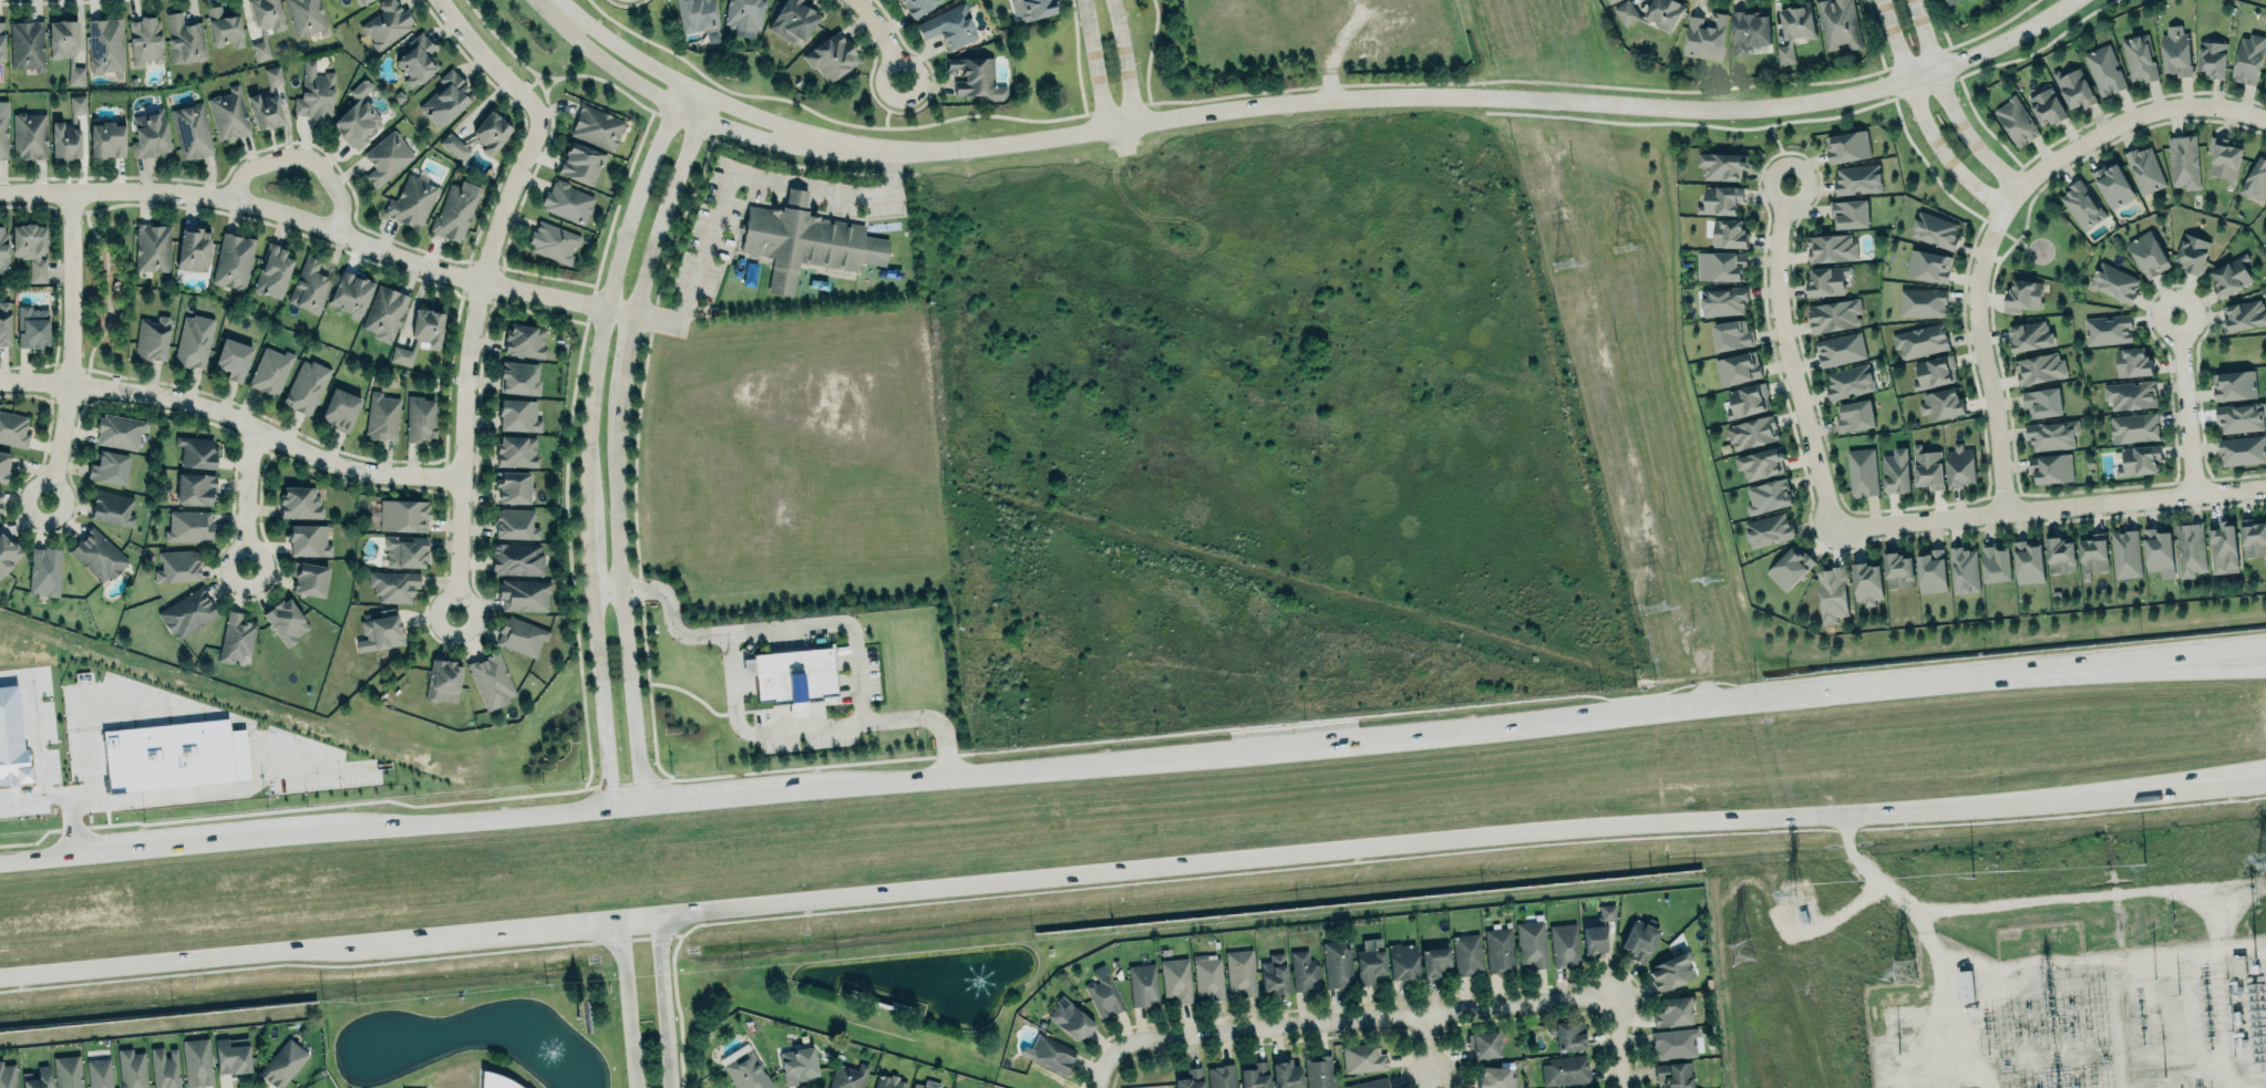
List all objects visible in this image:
building: (1967, 0)
building: (360, 1)
building: (1611, 1)
building: (1950, 1)
road: (563, 2)
building: (917, 6)
road: (558, 7)
building: (1032, 8)
building: (1652, 13)
building: (696, 14)
building: (743, 15)
building: (306, 17)
building: (792, 21)
building: (385, 22)
building: (1798, 22)
building: (265, 23)
building: (1838, 23)
building: (949, 25)
building: (224, 28)
road: (1990, 29)
building: (1749, 30)
building: (1703, 35)
road: (885, 37)
building: (185, 39)
building: (144, 40)
building: (1, 42)
building: (27, 44)
building: (106, 44)
building: (65, 46)
building: (2175, 51)
building: (1784, 53)
building: (832, 55)
road: (488, 58)
building: (2140, 58)
road: (1913, 59)
building: (2212, 59)
building: (2248, 59)
building: (416, 60)
road: (1122, 61)
road: (1092, 64)
building: (2104, 71)
road: (567, 74)
road: (624, 74)
building: (975, 76)
road: (676, 81)
building: (2264, 83)
building: (2074, 89)
building: (315, 92)
road: (1440, 95)
building: (445, 99)
road: (1946, 104)
road: (703, 107)
building: (2046, 107)
building: (265, 111)
road: (886, 112)
building: (228, 114)
building: (358, 117)
road: (1917, 117)
road: (2119, 120)
building: (2016, 121)
building: (596, 127)
building: (3, 129)
building: (190, 131)
building: (69, 132)
building: (490, 132)
road: (744, 132)
building: (29, 134)
building: (150, 134)
building: (106, 138)
road: (1776, 144)
building: (454, 146)
building: (1846, 146)
road: (306, 157)
building: (387, 157)
building: (2223, 158)
building: (581, 162)
building: (2183, 162)
building: (1721, 166)
building: (2144, 170)
building: (1857, 179)
building: (2256, 180)
road: (800, 186)
building: (2112, 186)
road: (874, 193)
building: (1720, 200)
building: (412, 201)
building: (567, 201)
building: (2082, 206)
building: (2265, 208)
building: (455, 211)
building: (1848, 214)
road: (665, 215)
road: (320, 225)
building: (1935, 230)
building: (1729, 234)
building: (806, 240)
building: (552, 241)
road: (704, 245)
power tower: (1619, 245)
building: (152, 247)
building: (30, 248)
building: (193, 248)
building: (1831, 248)
building: (3, 250)
building: (2147, 253)
building: (2192, 253)
building: (233, 261)
power tower: (1566, 265)
building: (1928, 266)
building: (1721, 267)
building: (271, 271)
building: (2231, 277)
building: (1826, 281)
building: (2114, 283)
building: (310, 284)
building: (349, 293)
building: (2022, 298)
building: (1722, 301)
building: (1923, 302)
building: (384, 313)
building: (1834, 315)
building: (2244, 315)
building: (4, 323)
building: (32, 327)
building: (426, 327)
building: (2107, 330)
building: (1732, 335)
building: (2029, 335)
building: (152, 338)
building: (1919, 340)
building: (193, 341)
building: (524, 341)
road: (72, 348)
road: (471, 349)
building: (1840, 349)
building: (401, 355)
road: (1792, 356)
building: (233, 359)
road: (1981, 360)
building: (2132, 361)
road: (624, 367)
building: (1737, 369)
building: (2039, 369)
building: (270, 370)
building: (1934, 373)
building: (518, 377)
building: (1848, 381)
building: (2233, 385)
building: (306, 386)
building: (2130, 395)
building: (1748, 401)
building: (2041, 401)
building: (1941, 405)
road: (2184, 405)
building: (340, 410)
building: (518, 415)
building: (381, 416)
building: (1854, 416)
building: (2241, 417)
road: (235, 418)
building: (420, 418)
building: (2133, 427)
building: (13, 428)
building: (120, 431)
building: (1752, 433)
building: (2051, 435)
road: (591, 437)
building: (516, 450)
building: (2242, 450)
building: (196, 452)
building: (2139, 460)
building: (1760, 464)
building: (3, 465)
building: (1959, 466)
building: (109, 467)
building: (1927, 467)
building: (2051, 468)
building: (1896, 472)
building: (1861, 473)
road: (249, 486)
building: (195, 487)
building: (514, 487)
building: (0, 493)
building: (1769, 496)
building: (299, 501)
building: (1, 507)
building: (112, 508)
road: (2050, 508)
building: (403, 516)
building: (515, 524)
building: (188, 526)
building: (1768, 529)
building: (309, 539)
building: (2253, 539)
building: (2190, 549)
building: (2223, 549)
building: (405, 550)
building: (2159, 550)
building: (8, 553)
building: (96, 555)
building: (2126, 555)
building: (2060, 556)
building: (2092, 556)
building: (516, 558)
building: (2027, 561)
building: (1995, 563)
building: (177, 566)
building: (1790, 568)
building: (44, 570)
building: (1964, 570)
building: (1898, 572)
building: (1932, 573)
road: (261, 574)
power tower: (1711, 578)
building: (309, 579)
building: (1865, 582)
building: (393, 586)
building: (1832, 593)
building: (524, 594)
power tower: (1651, 604)
road: (473, 609)
building: (187, 612)
road: (627, 612)
building: (286, 621)
building: (379, 632)
building: (521, 635)
building: (236, 638)
road: (856, 647)
road: (2143, 659)
road: (2143, 671)
building: (792, 675)
building: (491, 680)
building: (443, 681)
road: (1863, 686)
road: (929, 716)
road: (1254, 746)
road: (2187, 780)
road: (2187, 788)
road: (723, 794)
road: (627, 801)
road: (464, 817)
road: (196, 841)
road: (38, 856)
power tower: (2260, 860)
road: (1054, 880)
power tower: (1792, 892)
power tower: (2254, 901)
railway: (1133, 903)
building: (1606, 911)
road: (1916, 913)
power tower: (2171, 922)
building: (1593, 935)
building: (1639, 937)
building: (1564, 942)
building: (1531, 943)
building: (1500, 947)
power tower: (1738, 951)
building: (1466, 953)
building: (1369, 960)
building: (1403, 960)
building: (1434, 960)
building: (1337, 964)
building: (2237, 965)
building: (1305, 970)
building: (1240, 971)
power tower: (1901, 971)
building: (1274, 972)
building: (1670, 972)
building: (1207, 975)
building: (1175, 977)
fountain: (983, 980)
building: (1142, 984)
building: (1964, 985)
building: (1104, 992)
road: (663, 1003)
road: (627, 1005)
building: (1673, 1008)
building: (1070, 1017)
power substation: (2073, 1018)
road: (1338, 1020)
building: (1567, 1034)
road: (1619, 1042)
building: (1484, 1043)
building: (1673, 1043)
road: (1431, 1048)
fountain: (553, 1054)
building: (1051, 1054)
building: (230, 1055)
building: (1363, 1056)
building: (197, 1060)
building: (282, 1060)
building: (797, 1063)
building: (164, 1067)
building: (132, 1068)
building: (1565, 1069)
building: (746, 1070)
building: (66, 1071)
building: (1286, 1071)
building: (1318, 1071)
building: (99, 1073)
building: (1673, 1074)
building: (847, 1075)
building: (1254, 1075)
building: (7, 1076)
building: (1222, 1076)
building: (1494, 1076)
building: (39, 1078)
building: (1191, 1078)
building: (495, 1079)
building: (889, 1081)
building: (927, 1084)
building: (1369, 1084)
building: (1575, 1087)

